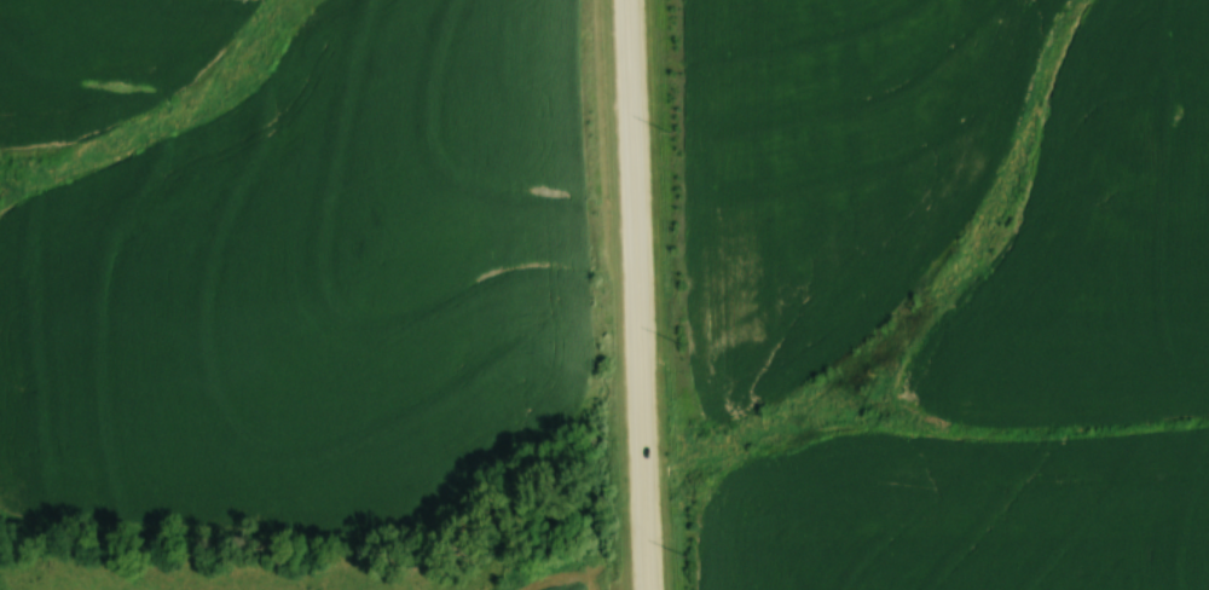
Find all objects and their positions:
road: (637, 295)

